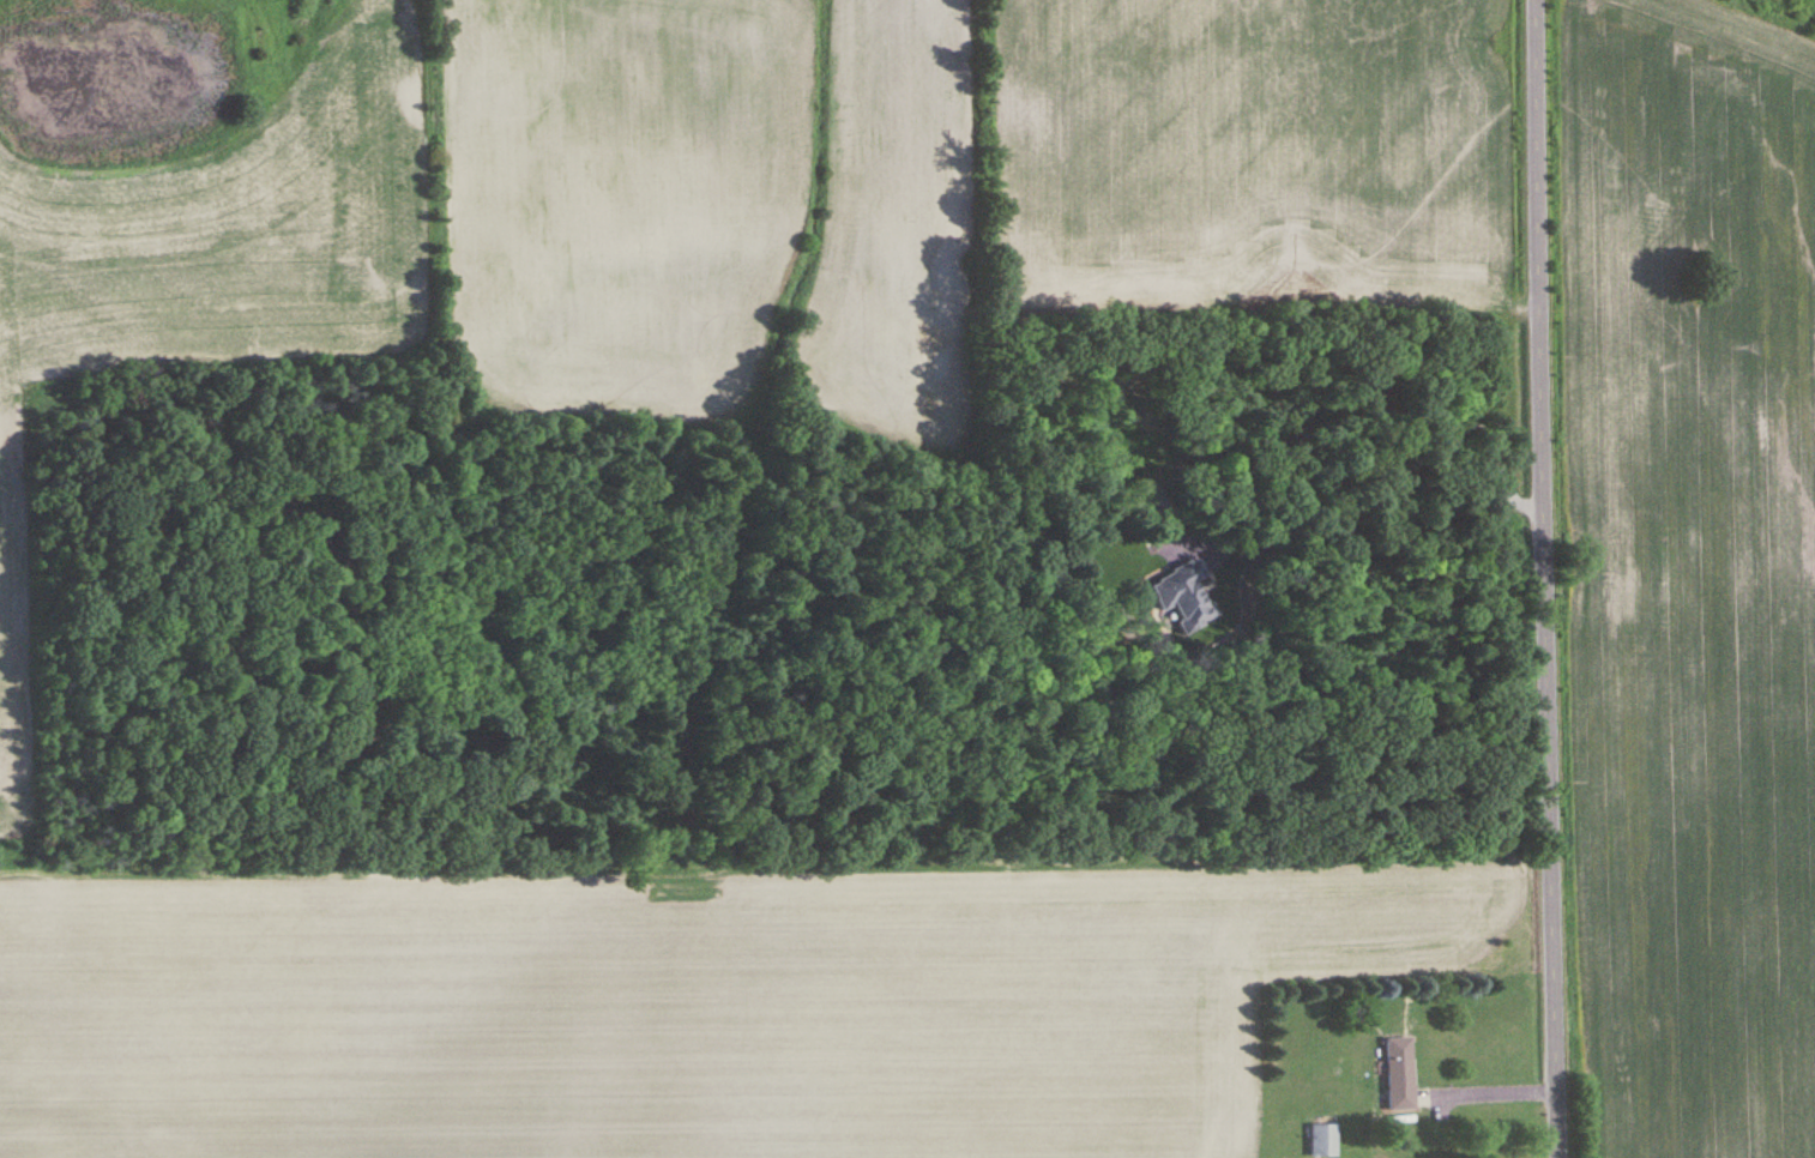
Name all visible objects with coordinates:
road: (1404, 457)
road: (1539, 579)
building: (1183, 593)
building: (1400, 1074)
road: (1475, 1084)
building: (1323, 1141)

